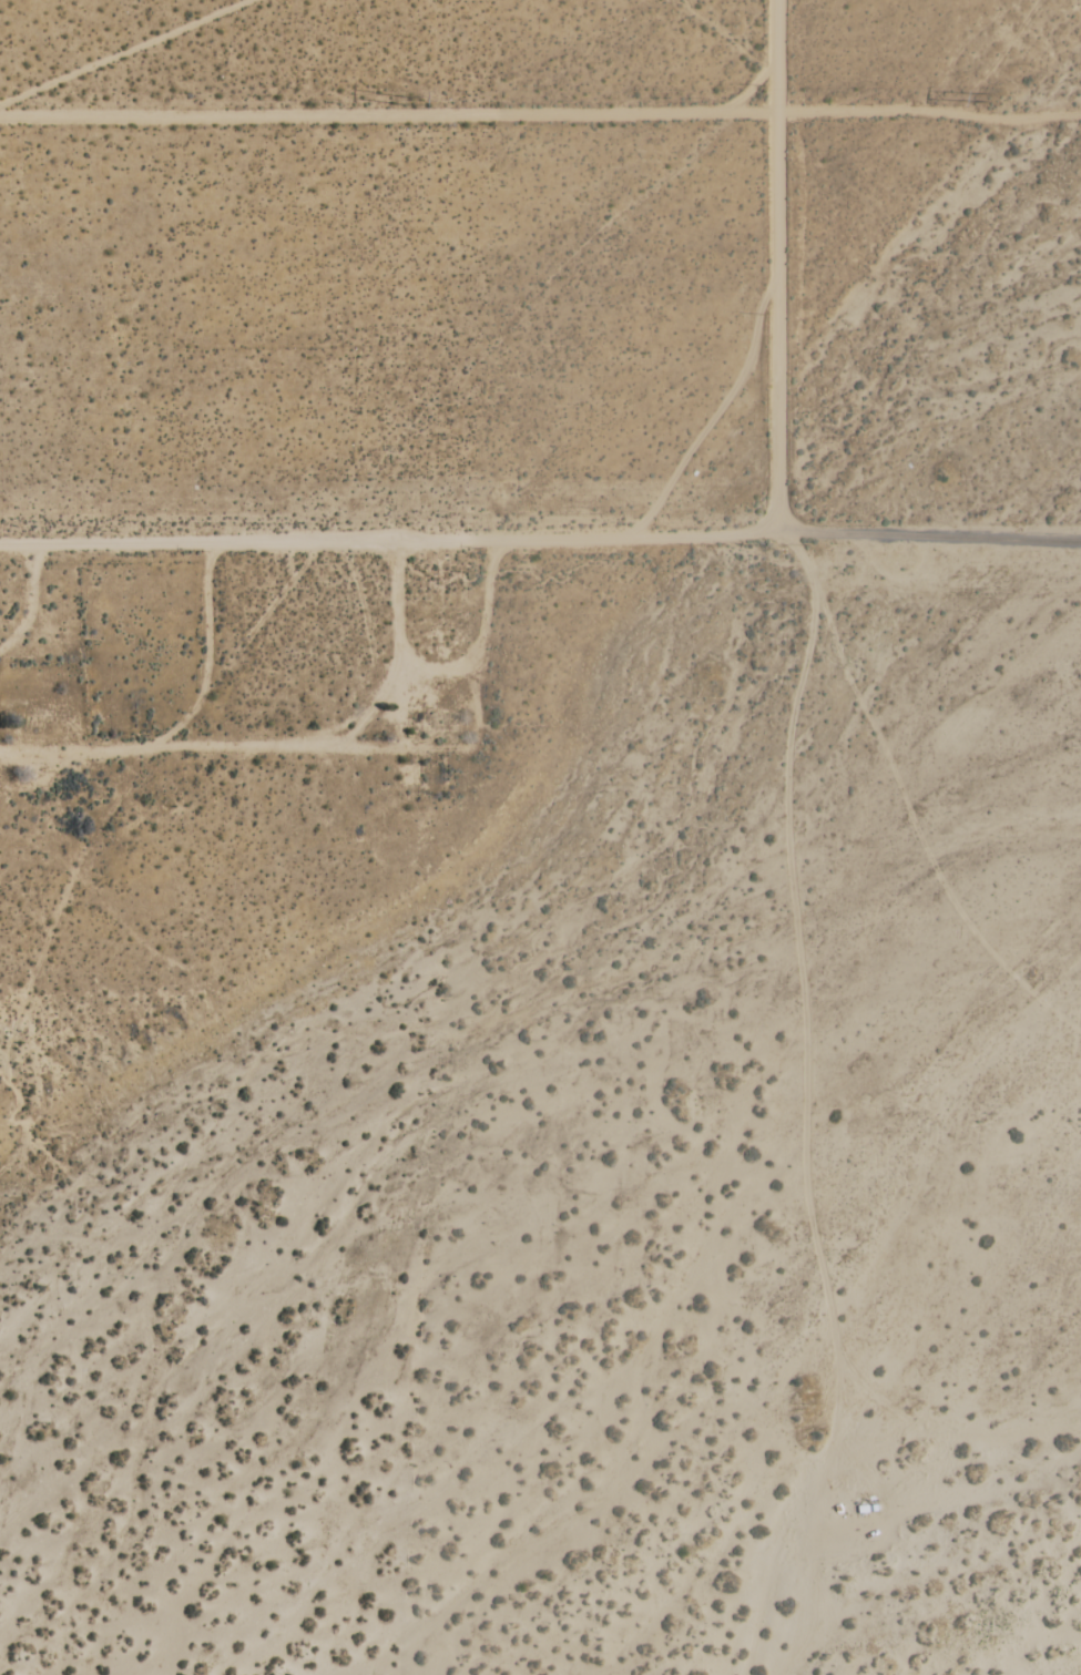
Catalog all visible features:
road: (122, 51)
power tower: (996, 99)
power tower: (408, 101)
road: (540, 111)
road: (775, 266)
road: (931, 532)
road: (391, 541)

